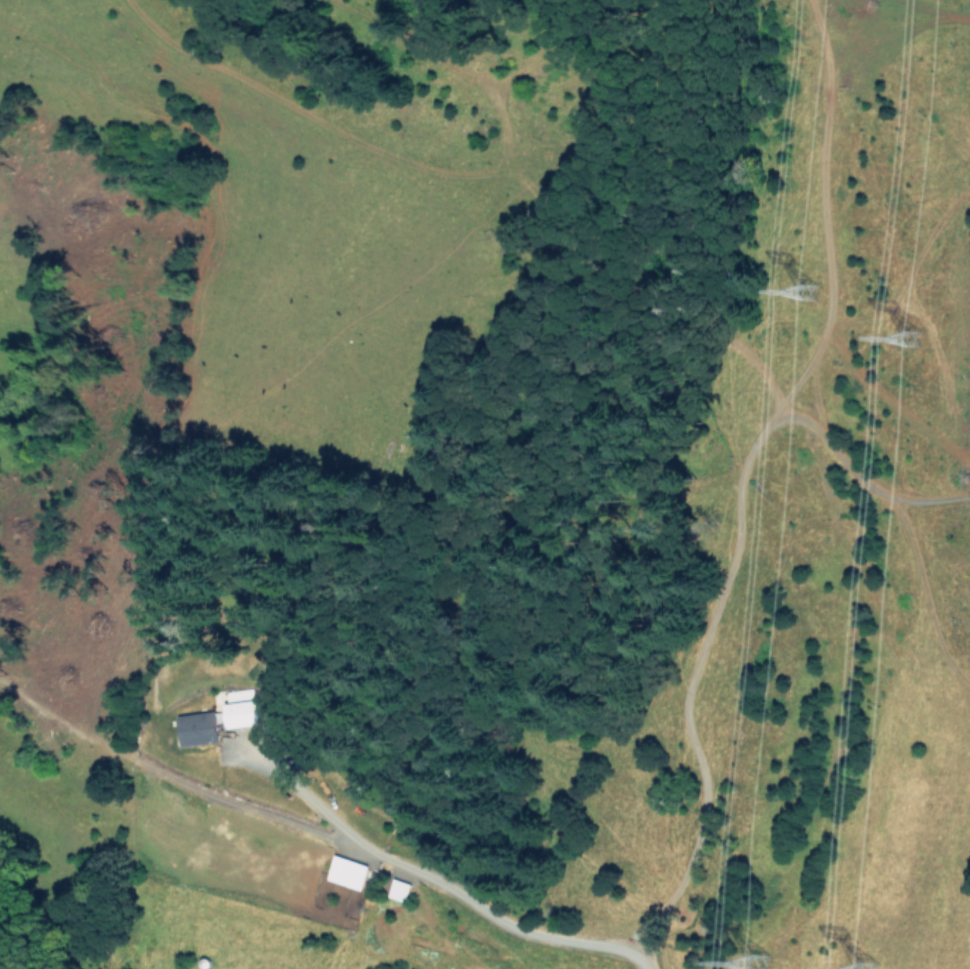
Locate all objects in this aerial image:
power tower: (813, 283)
power tower: (926, 331)
building: (241, 708)
building: (199, 728)
crop: (894, 862)
building: (347, 872)
road: (446, 890)
crop: (315, 891)
power tower: (765, 961)
power tower: (879, 965)

